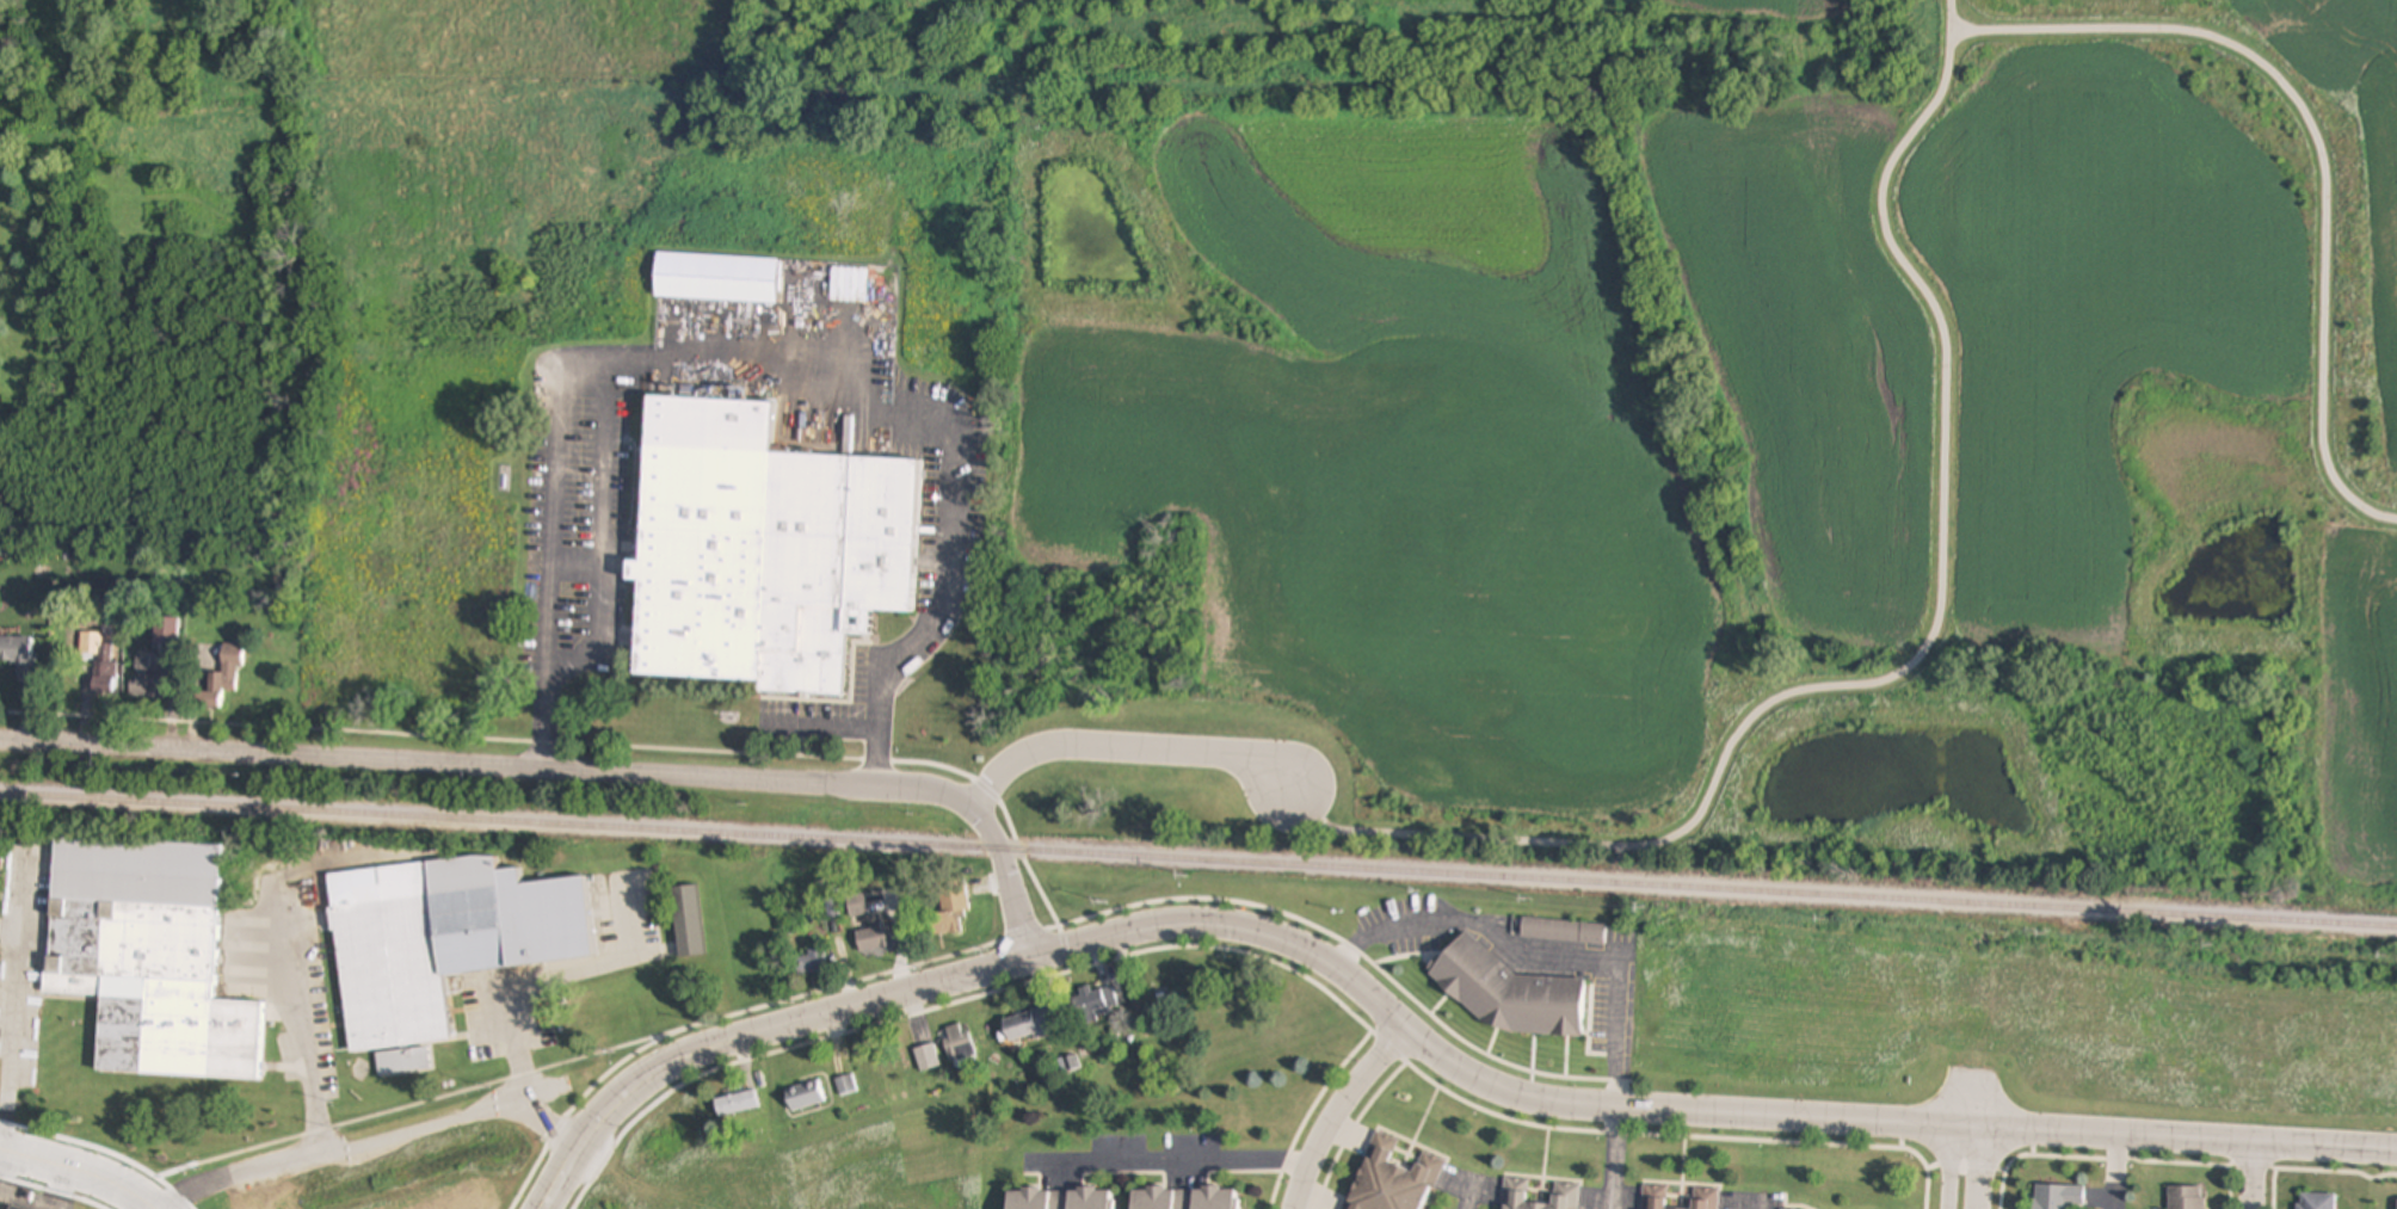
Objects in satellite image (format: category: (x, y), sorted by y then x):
road: (2317, 144)
building: (716, 278)
road: (764, 352)
park: (1812, 377)
building: (763, 551)
building: (166, 636)
building: (19, 656)
road: (1910, 668)
building: (223, 678)
road: (1127, 747)
road: (569, 772)
railway: (1198, 861)
building: (955, 906)
building: (856, 907)
building: (688, 923)
building: (1564, 932)
building: (875, 940)
building: (442, 942)
road: (1533, 952)
building: (148, 958)
building: (811, 964)
road: (967, 977)
building: (1509, 994)
building: (1097, 1003)
road: (12, 1011)
building: (1031, 1025)
building: (961, 1042)
building: (928, 1057)
building: (402, 1063)
road: (310, 1087)
building: (805, 1097)
road: (1953, 1103)
road: (1984, 1103)
building: (738, 1104)
road: (1338, 1110)
road: (535, 1118)
road: (1806, 1121)
road: (597, 1124)
road: (361, 1146)
road: (1615, 1159)
road: (1171, 1164)
road: (1949, 1170)
road: (1982, 1171)
road: (2120, 1174)
road: (79, 1176)
building: (1391, 1178)
road: (2253, 1179)
building: (1515, 1193)
road: (1471, 1196)
building: (1655, 1197)
building: (2057, 1197)
building: (2186, 1197)
building: (1060, 1198)
building: (1184, 1198)
building: (1705, 1198)
building: (2316, 1201)
building: (10, 1208)
road: (155, 1208)
road: (1758, 1208)

